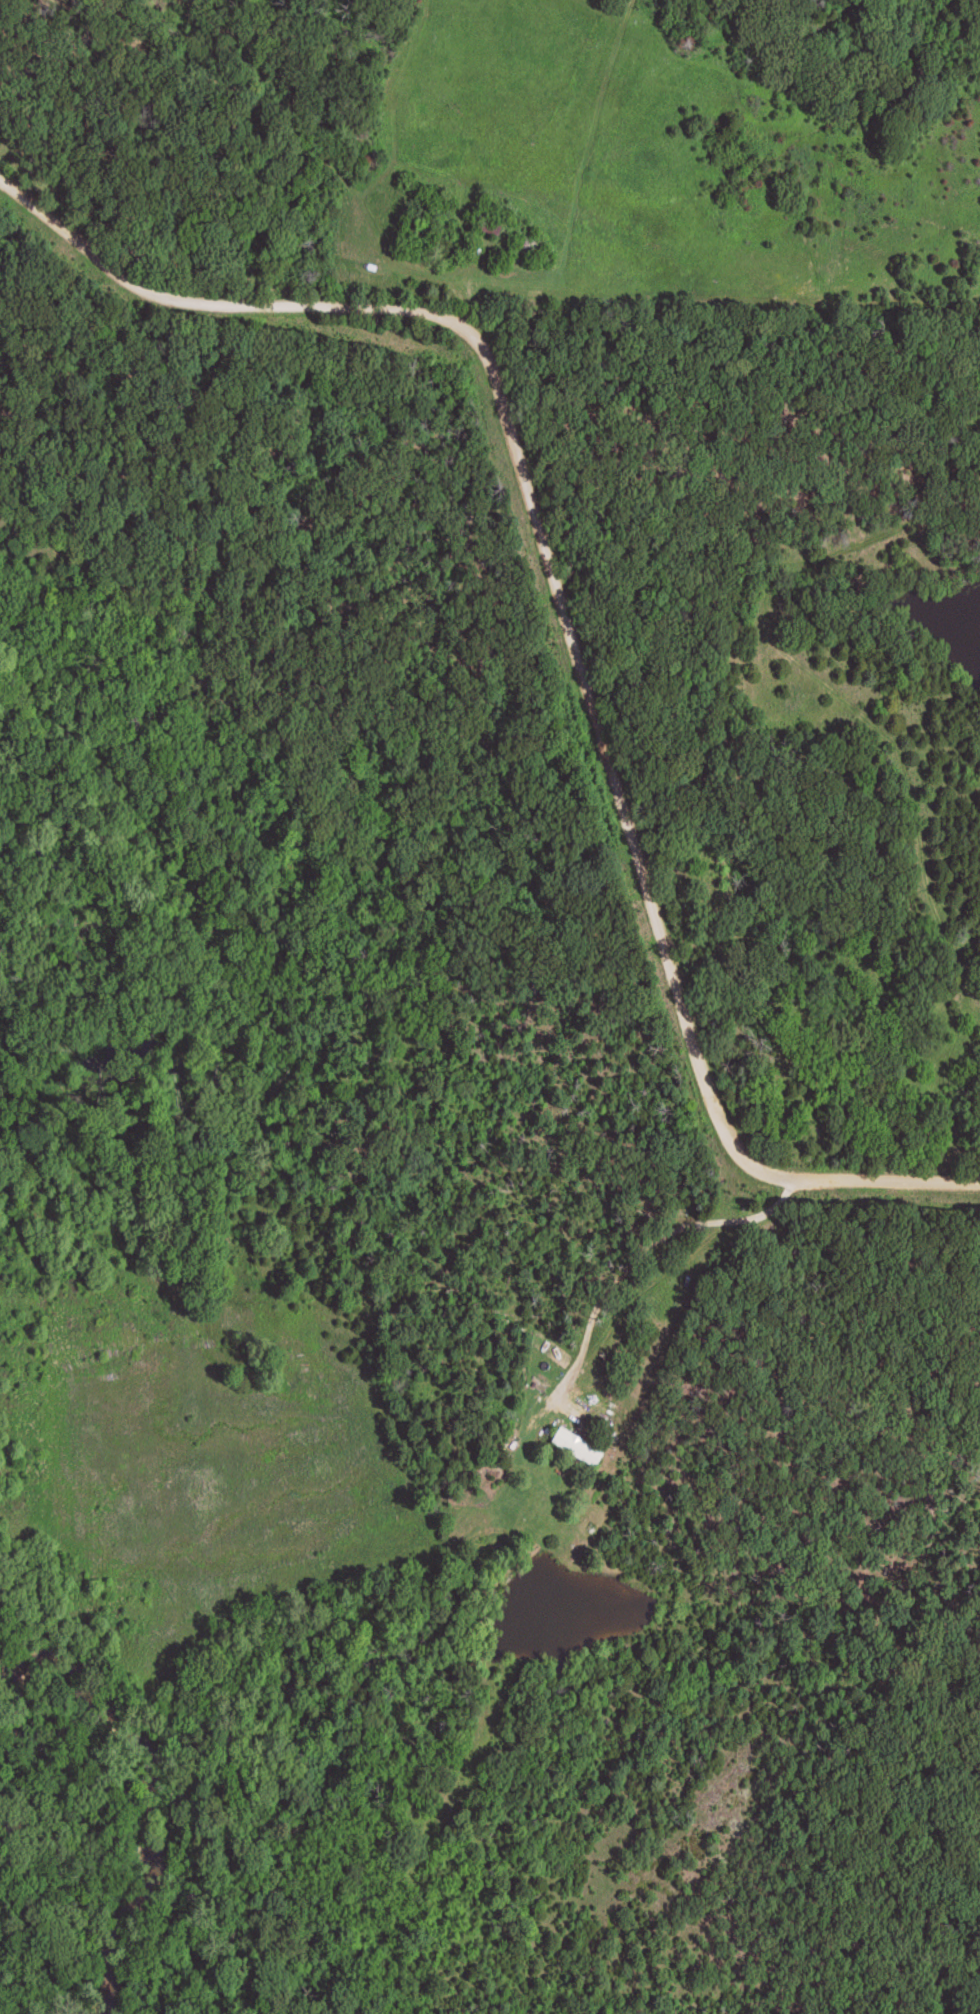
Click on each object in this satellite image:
road: (207, 304)
road: (611, 759)
road: (884, 1186)
road: (658, 1274)
building: (577, 1446)

